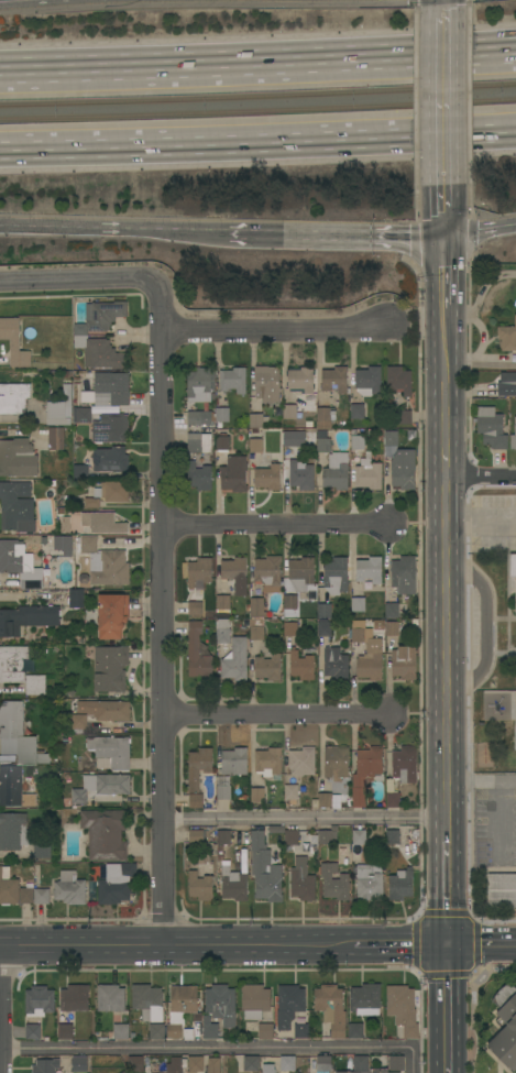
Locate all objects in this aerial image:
road: (14, 0)
road: (444, 1)
road: (257, 51)
railway: (257, 95)
railway: (257, 110)
road: (446, 120)
road: (257, 139)
road: (114, 227)
road: (481, 231)
road: (338, 233)
road: (78, 280)
road: (446, 296)
building: (102, 315)
road: (276, 333)
building: (507, 337)
road: (484, 340)
building: (13, 342)
building: (99, 353)
building: (233, 380)
building: (300, 380)
building: (334, 380)
building: (398, 380)
building: (367, 381)
building: (266, 383)
building: (506, 384)
building: (198, 385)
building: (108, 390)
building: (13, 397)
building: (59, 408)
building: (289, 412)
building: (356, 412)
building: (81, 415)
building: (222, 415)
building: (199, 417)
building: (323, 417)
building: (403, 417)
road: (446, 417)
building: (255, 420)
building: (308, 424)
building: (110, 428)
building: (491, 428)
building: (513, 437)
building: (56, 438)
building: (391, 438)
building: (207, 439)
building: (294, 439)
building: (356, 439)
building: (322, 441)
building: (194, 442)
building: (221, 442)
building: (255, 446)
building: (387, 451)
building: (18, 458)
building: (110, 459)
building: (403, 469)
building: (79, 471)
building: (336, 471)
building: (367, 473)
building: (233, 474)
building: (299, 475)
building: (199, 477)
building: (267, 477)
road: (481, 477)
building: (112, 491)
building: (91, 503)
building: (17, 506)
road: (481, 515)
building: (102, 523)
building: (65, 525)
road: (271, 527)
building: (63, 545)
building: (87, 545)
building: (20, 563)
building: (109, 568)
building: (513, 568)
building: (369, 569)
building: (199, 571)
building: (267, 572)
building: (234, 573)
building: (300, 573)
building: (403, 574)
building: (336, 576)
building: (257, 591)
building: (76, 598)
building: (222, 602)
building: (289, 602)
building: (358, 604)
building: (255, 607)
building: (195, 609)
building: (307, 610)
building: (323, 610)
building: (392, 610)
road: (160, 614)
building: (112, 615)
building: (26, 618)
building: (255, 628)
building: (289, 628)
building: (392, 628)
building: (323, 629)
road: (484, 629)
building: (221, 632)
road: (447, 646)
building: (366, 652)
building: (197, 654)
building: (235, 660)
building: (12, 663)
building: (403, 663)
building: (334, 664)
building: (300, 666)
building: (267, 667)
building: (110, 668)
building: (35, 685)
building: (105, 710)
road: (273, 719)
building: (78, 723)
building: (18, 735)
building: (64, 740)
building: (110, 752)
building: (55, 758)
building: (233, 760)
building: (267, 762)
building: (301, 762)
building: (336, 763)
building: (404, 765)
building: (198, 767)
building: (365, 774)
building: (101, 786)
building: (13, 788)
building: (222, 792)
building: (290, 793)
building: (256, 795)
road: (498, 795)
building: (196, 800)
building: (328, 800)
building: (392, 800)
road: (305, 817)
building: (275, 829)
building: (13, 831)
building: (105, 833)
building: (327, 835)
building: (196, 836)
building: (392, 836)
building: (223, 837)
building: (290, 837)
building: (359, 837)
building: (245, 839)
building: (42, 848)
building: (219, 848)
building: (219, 856)
building: (244, 860)
building: (224, 862)
building: (264, 871)
building: (301, 880)
building: (369, 882)
road: (448, 882)
building: (116, 883)
building: (333, 883)
building: (29, 885)
building: (233, 885)
building: (400, 885)
building: (200, 886)
building: (8, 887)
building: (69, 888)
building: (502, 890)
building: (25, 896)
building: (41, 896)
road: (175, 946)
road: (399, 948)
road: (482, 948)
building: (75, 998)
building: (110, 998)
building: (365, 999)
building: (254, 1000)
building: (39, 1001)
building: (147, 1003)
building: (220, 1004)
building: (288, 1005)
building: (180, 1008)
building: (331, 1009)
building: (402, 1009)
road: (447, 1009)
building: (506, 1027)
building: (209, 1028)
building: (33, 1031)
building: (65, 1031)
building: (121, 1031)
building: (156, 1031)
building: (265, 1031)
building: (300, 1031)
building: (355, 1031)
road: (218, 1045)
building: (195, 1063)
building: (323, 1063)
building: (360, 1063)
building: (396, 1063)
building: (78, 1064)
building: (135, 1064)
building: (251, 1064)
building: (286, 1064)
building: (45, 1065)
building: (173, 1065)
building: (213, 1065)
building: (267, 1069)
building: (377, 1071)
building: (124, 1072)
building: (191, 1072)
building: (351, 1072)
road: (447, 1072)

